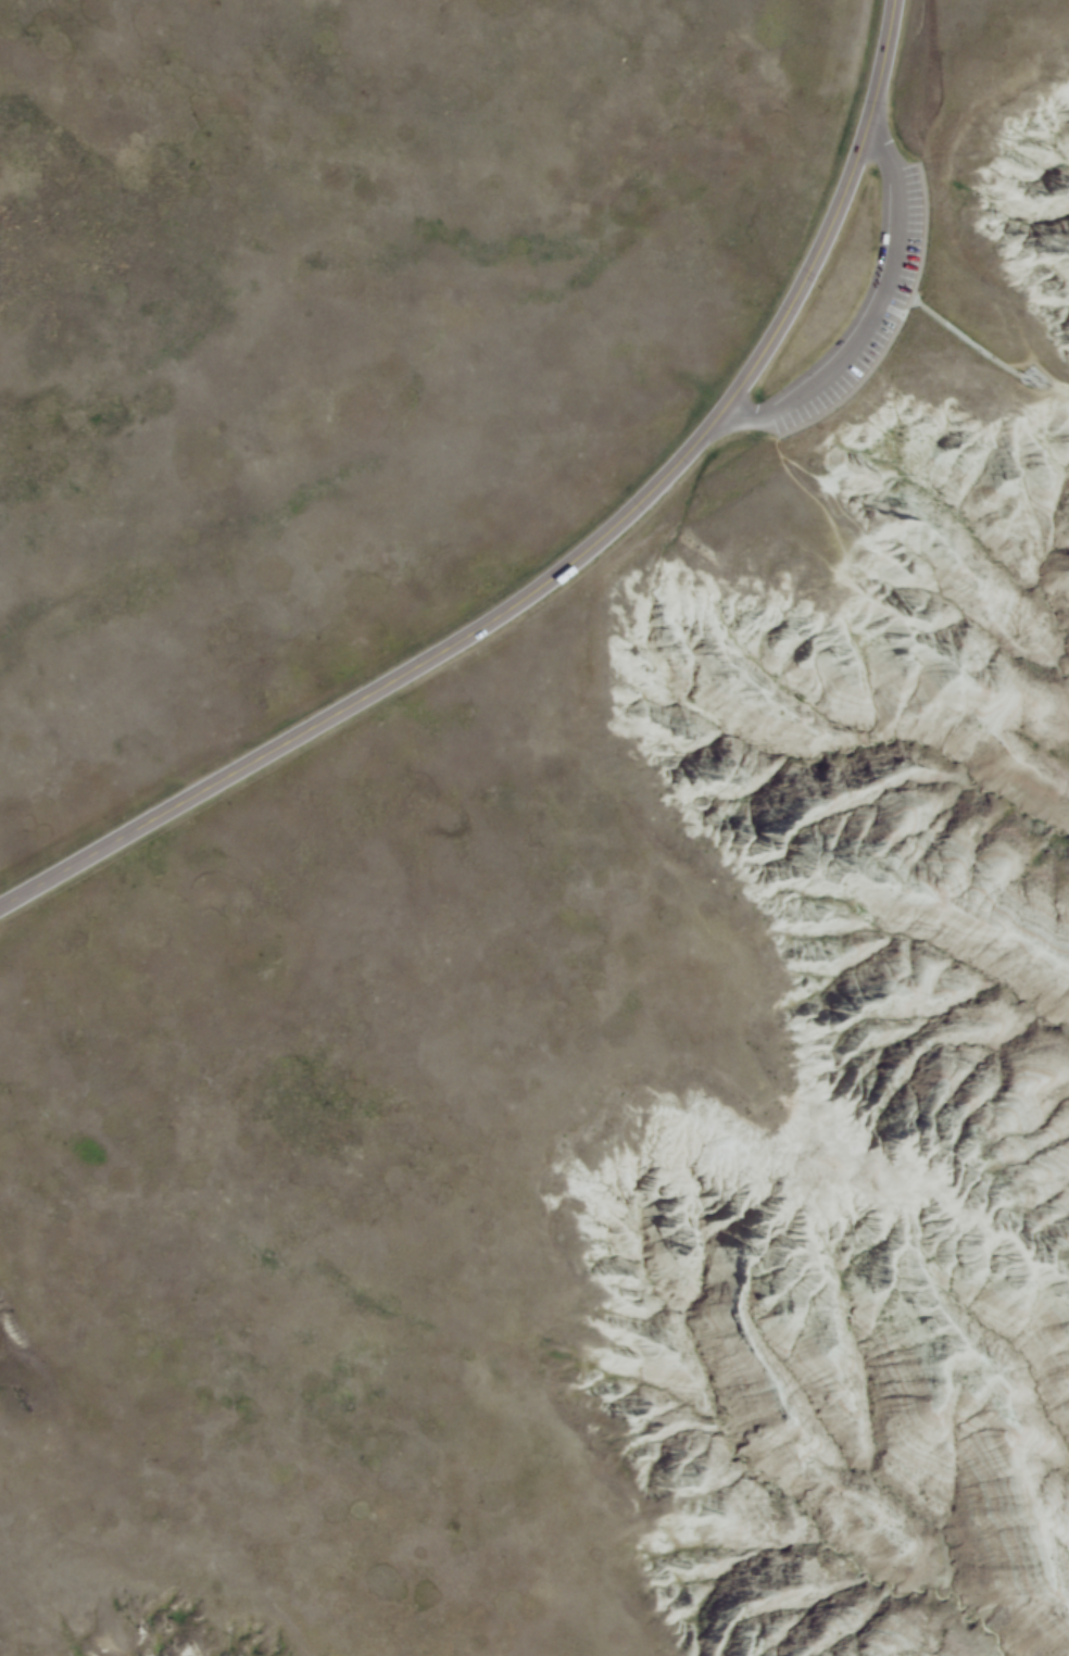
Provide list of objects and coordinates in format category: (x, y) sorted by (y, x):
road: (879, 133)
road: (869, 300)
parking lot: (866, 304)
road: (985, 310)
road: (946, 318)
road: (741, 419)
road: (567, 561)

